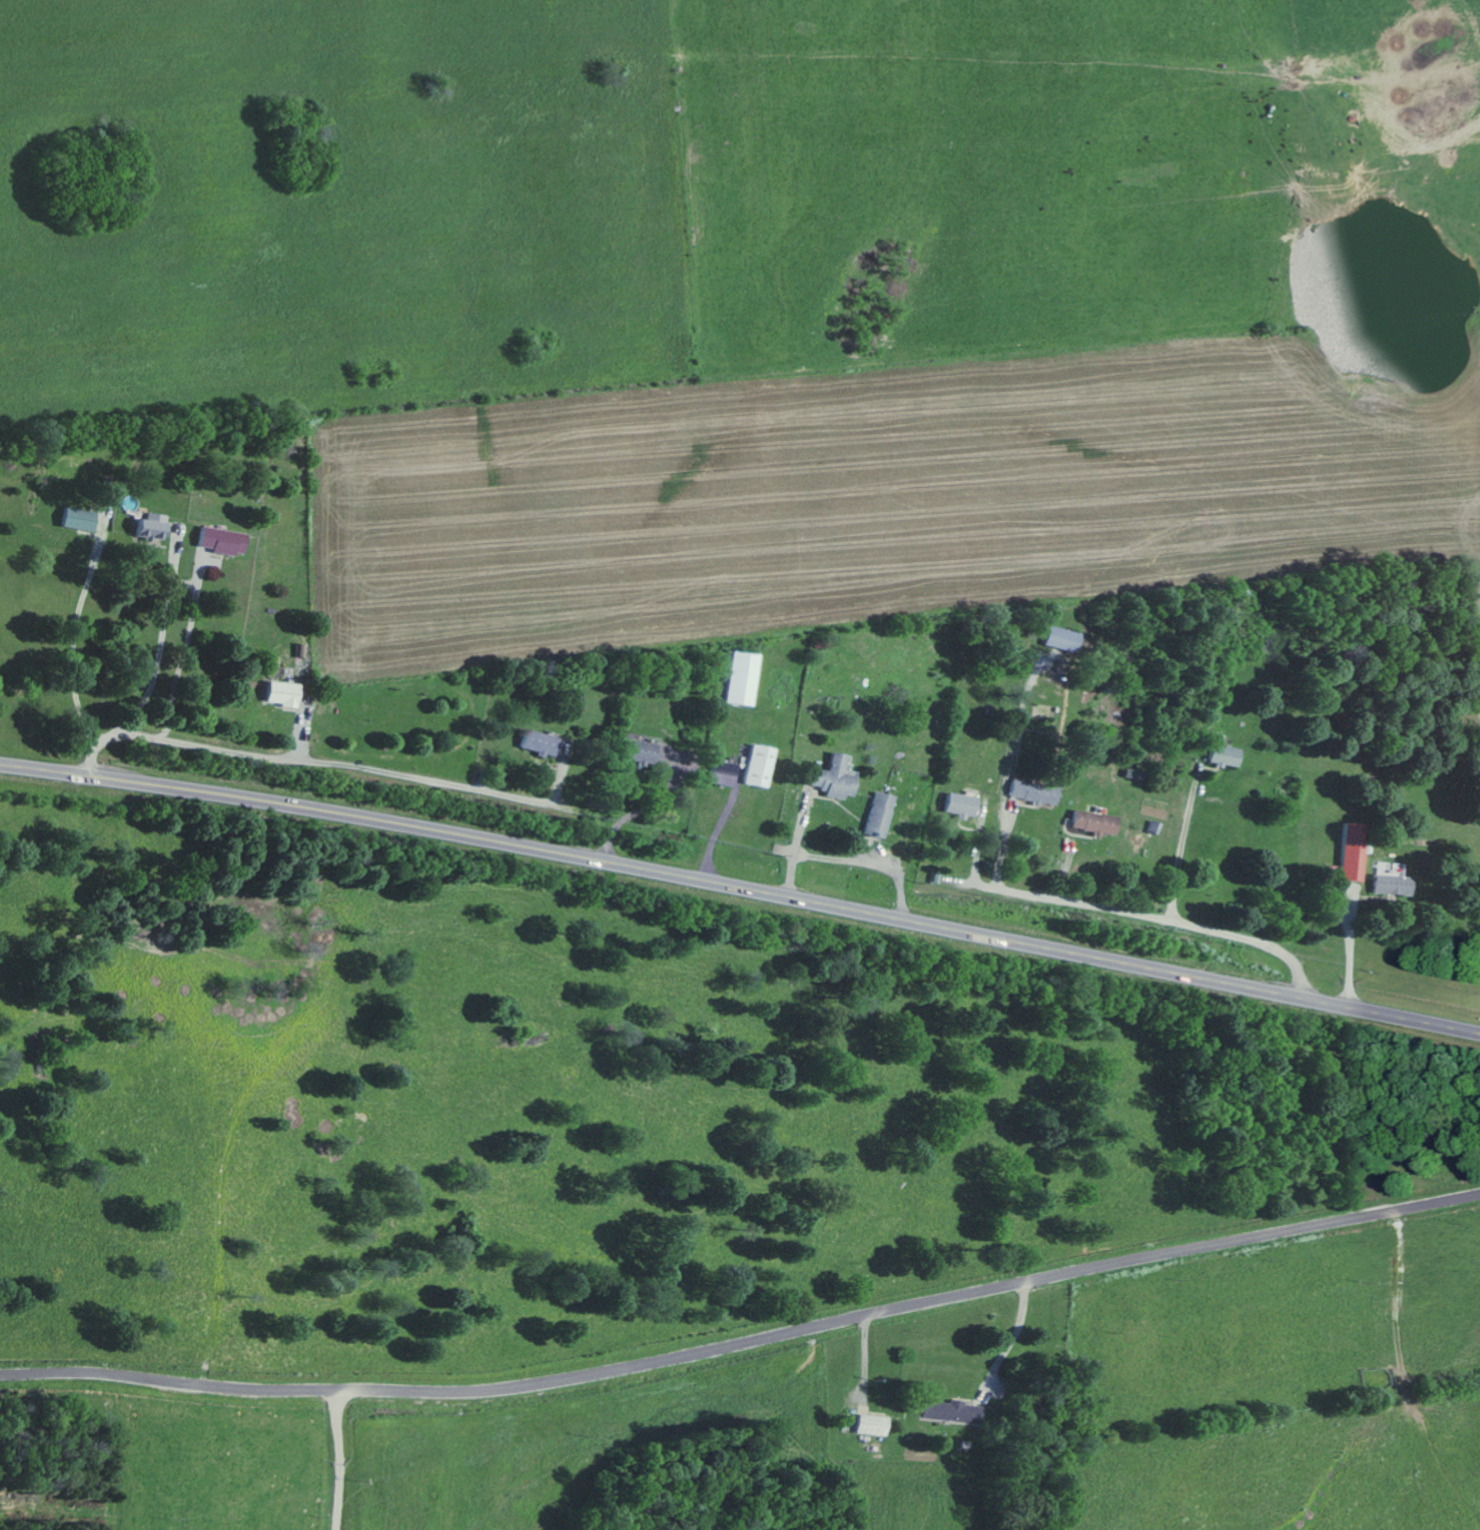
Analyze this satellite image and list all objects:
building: (82, 519)
building: (154, 526)
building: (224, 540)
building: (1063, 639)
road: (77, 642)
road: (156, 648)
road: (194, 663)
building: (744, 678)
building: (284, 693)
road: (299, 703)
building: (540, 743)
road: (90, 751)
building: (641, 751)
building: (1225, 753)
road: (364, 765)
building: (760, 766)
building: (723, 773)
building: (834, 777)
building: (1036, 792)
building: (961, 804)
building: (880, 814)
building: (1097, 821)
building: (1355, 852)
road: (1183, 855)
road: (1230, 860)
building: (1394, 885)
road: (742, 886)
road: (1169, 919)
road: (1331, 925)
road: (1011, 1339)
road: (744, 1344)
building: (946, 1409)
building: (872, 1424)
road: (341, 1459)

